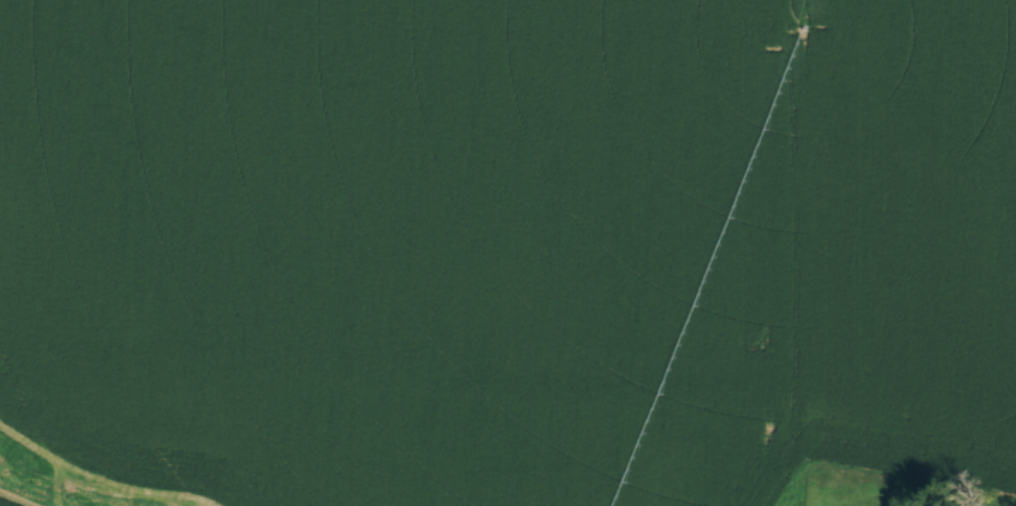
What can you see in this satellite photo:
crop: (509, 244)

